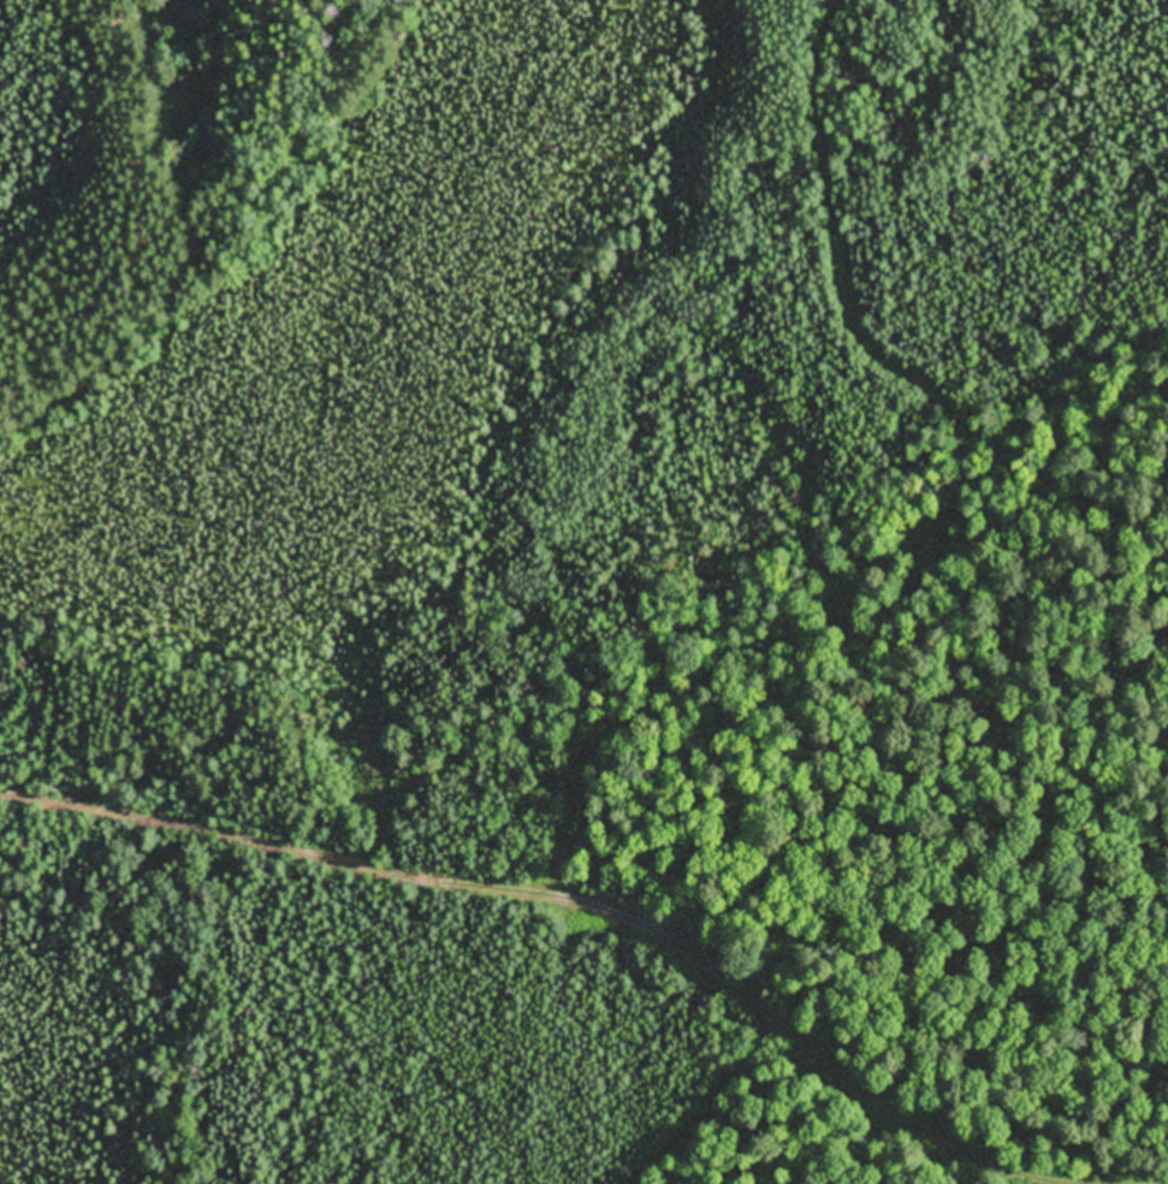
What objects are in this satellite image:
road: (164, 244)
road: (588, 943)

